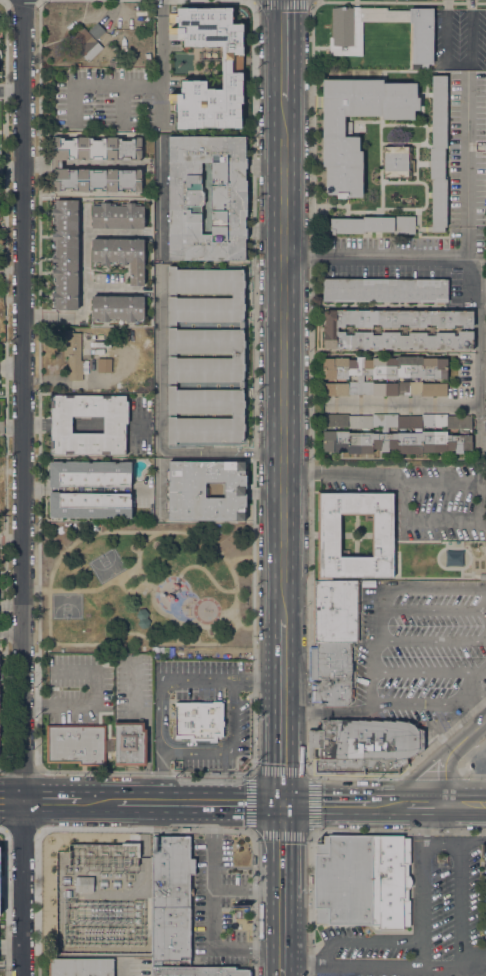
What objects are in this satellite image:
building: (346, 30)
building: (87, 41)
road: (283, 50)
building: (232, 63)
road: (141, 86)
road: (14, 91)
building: (0, 105)
building: (340, 143)
building: (96, 148)
building: (438, 153)
road: (467, 154)
building: (397, 161)
road: (13, 171)
building: (96, 179)
building: (206, 198)
building: (117, 214)
building: (373, 224)
road: (113, 234)
building: (64, 255)
building: (119, 257)
road: (391, 257)
road: (13, 269)
road: (111, 289)
road: (81, 290)
building: (384, 290)
building: (117, 311)
building: (330, 329)
road: (158, 341)
road: (480, 343)
building: (73, 355)
building: (205, 355)
road: (283, 360)
building: (104, 364)
building: (384, 375)
road: (405, 404)
building: (115, 424)
road: (12, 425)
building: (395, 433)
road: (260, 452)
road: (344, 472)
road: (23, 487)
railway: (290, 488)
building: (89, 489)
building: (206, 490)
road: (477, 515)
building: (328, 535)
road: (11, 541)
park: (107, 565)
building: (482, 576)
park: (144, 586)
park: (66, 606)
building: (335, 610)
building: (142, 618)
road: (11, 632)
road: (375, 643)
parking lot: (421, 649)
road: (282, 665)
building: (331, 672)
road: (164, 682)
road: (470, 686)
road: (95, 700)
road: (412, 702)
road: (469, 705)
building: (199, 720)
building: (76, 743)
building: (130, 743)
building: (362, 747)
road: (233, 750)
road: (443, 750)
road: (283, 759)
road: (10, 802)
road: (52, 803)
road: (102, 803)
road: (344, 803)
road: (430, 803)
road: (469, 803)
road: (202, 804)
traffic signals: (283, 805)
road: (472, 841)
road: (282, 852)
building: (171, 871)
building: (362, 881)
building: (83, 884)
power substation: (99, 895)
road: (460, 904)
road: (210, 911)
building: (171, 934)
road: (282, 936)
road: (362, 941)
road: (474, 953)
road: (422, 954)
building: (80, 967)
road: (122, 969)
road: (327, 970)
building: (199, 972)
road: (282, 975)

